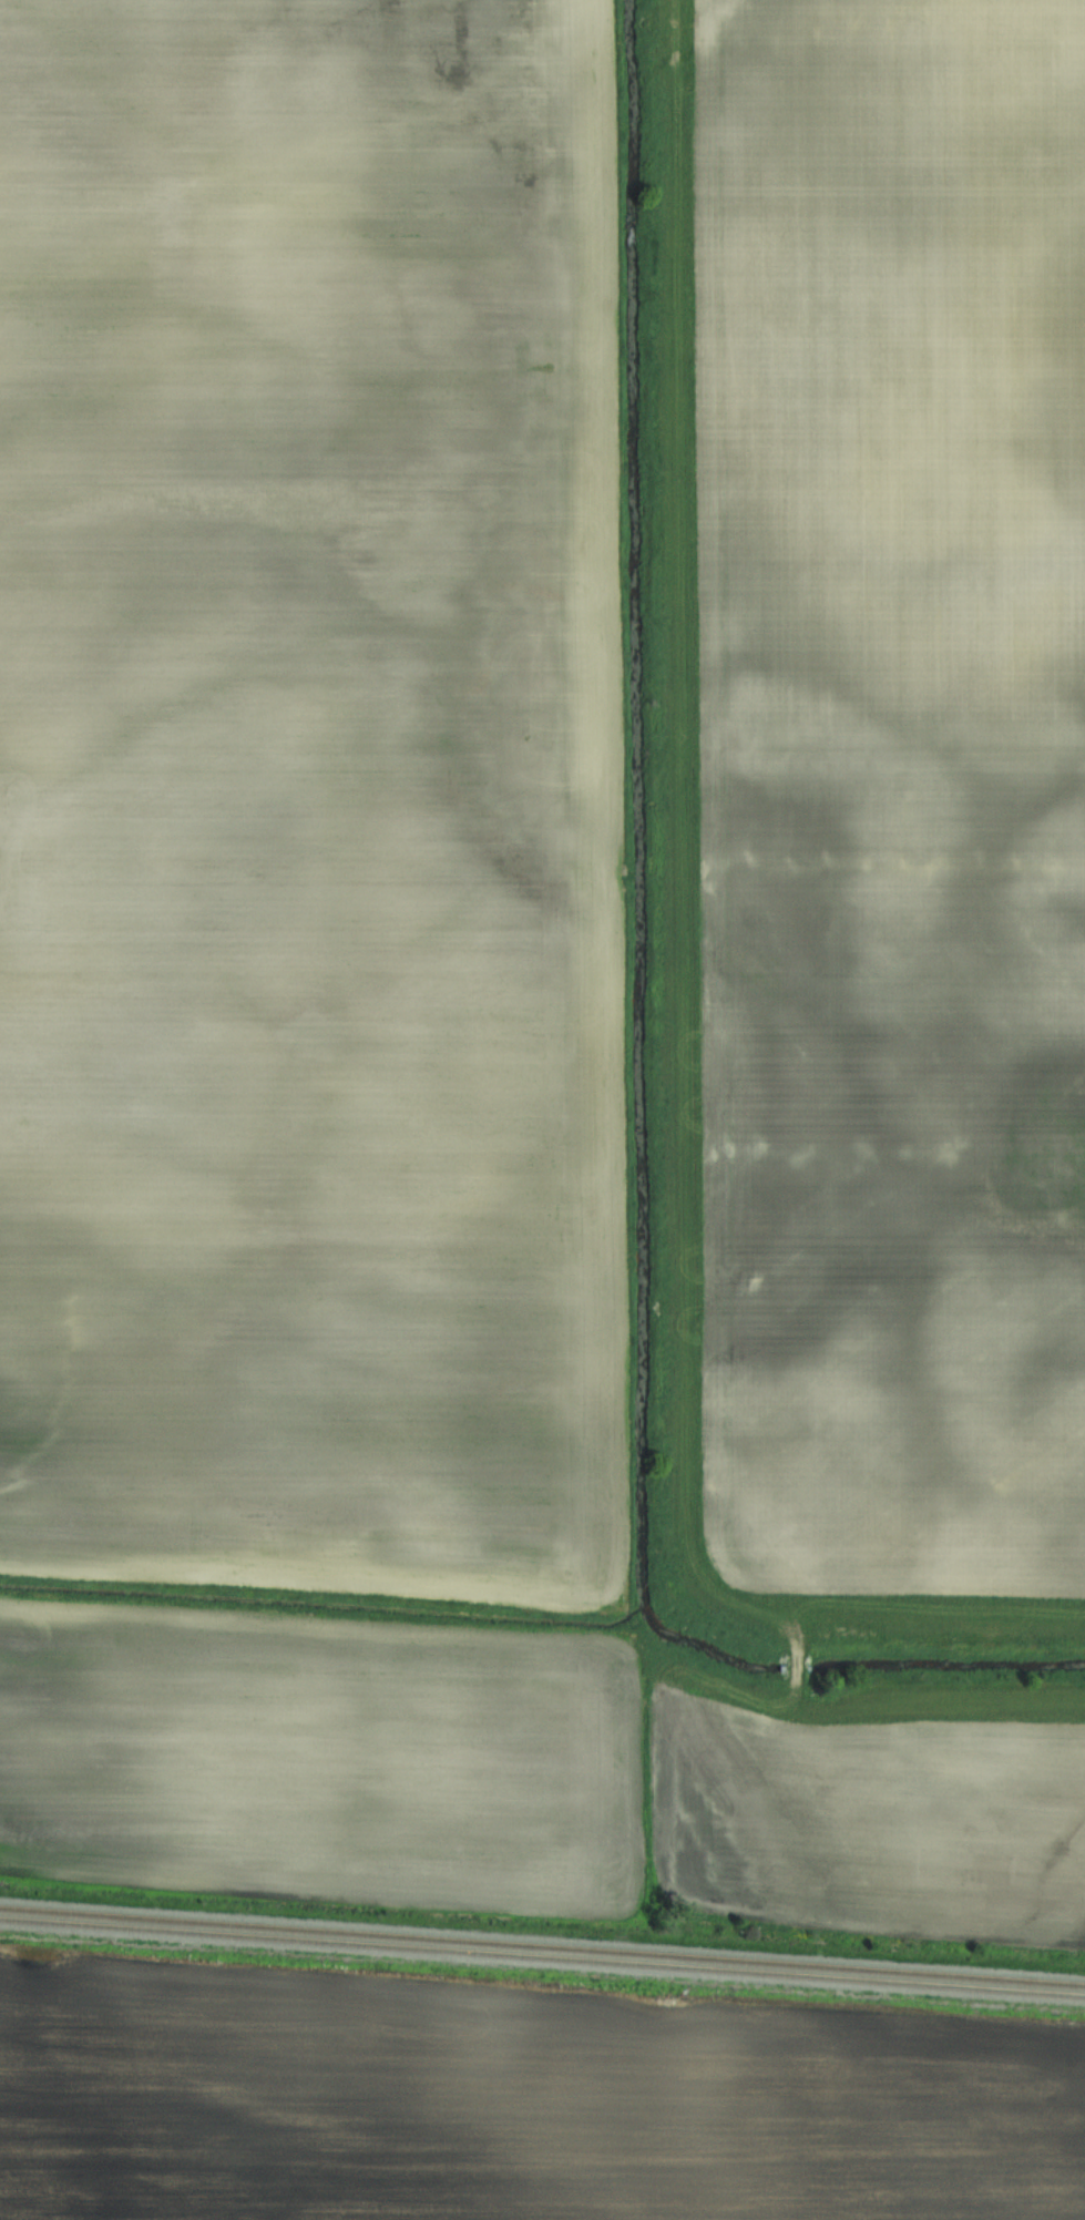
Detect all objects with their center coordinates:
railway: (542, 1945)
railway: (542, 1954)

